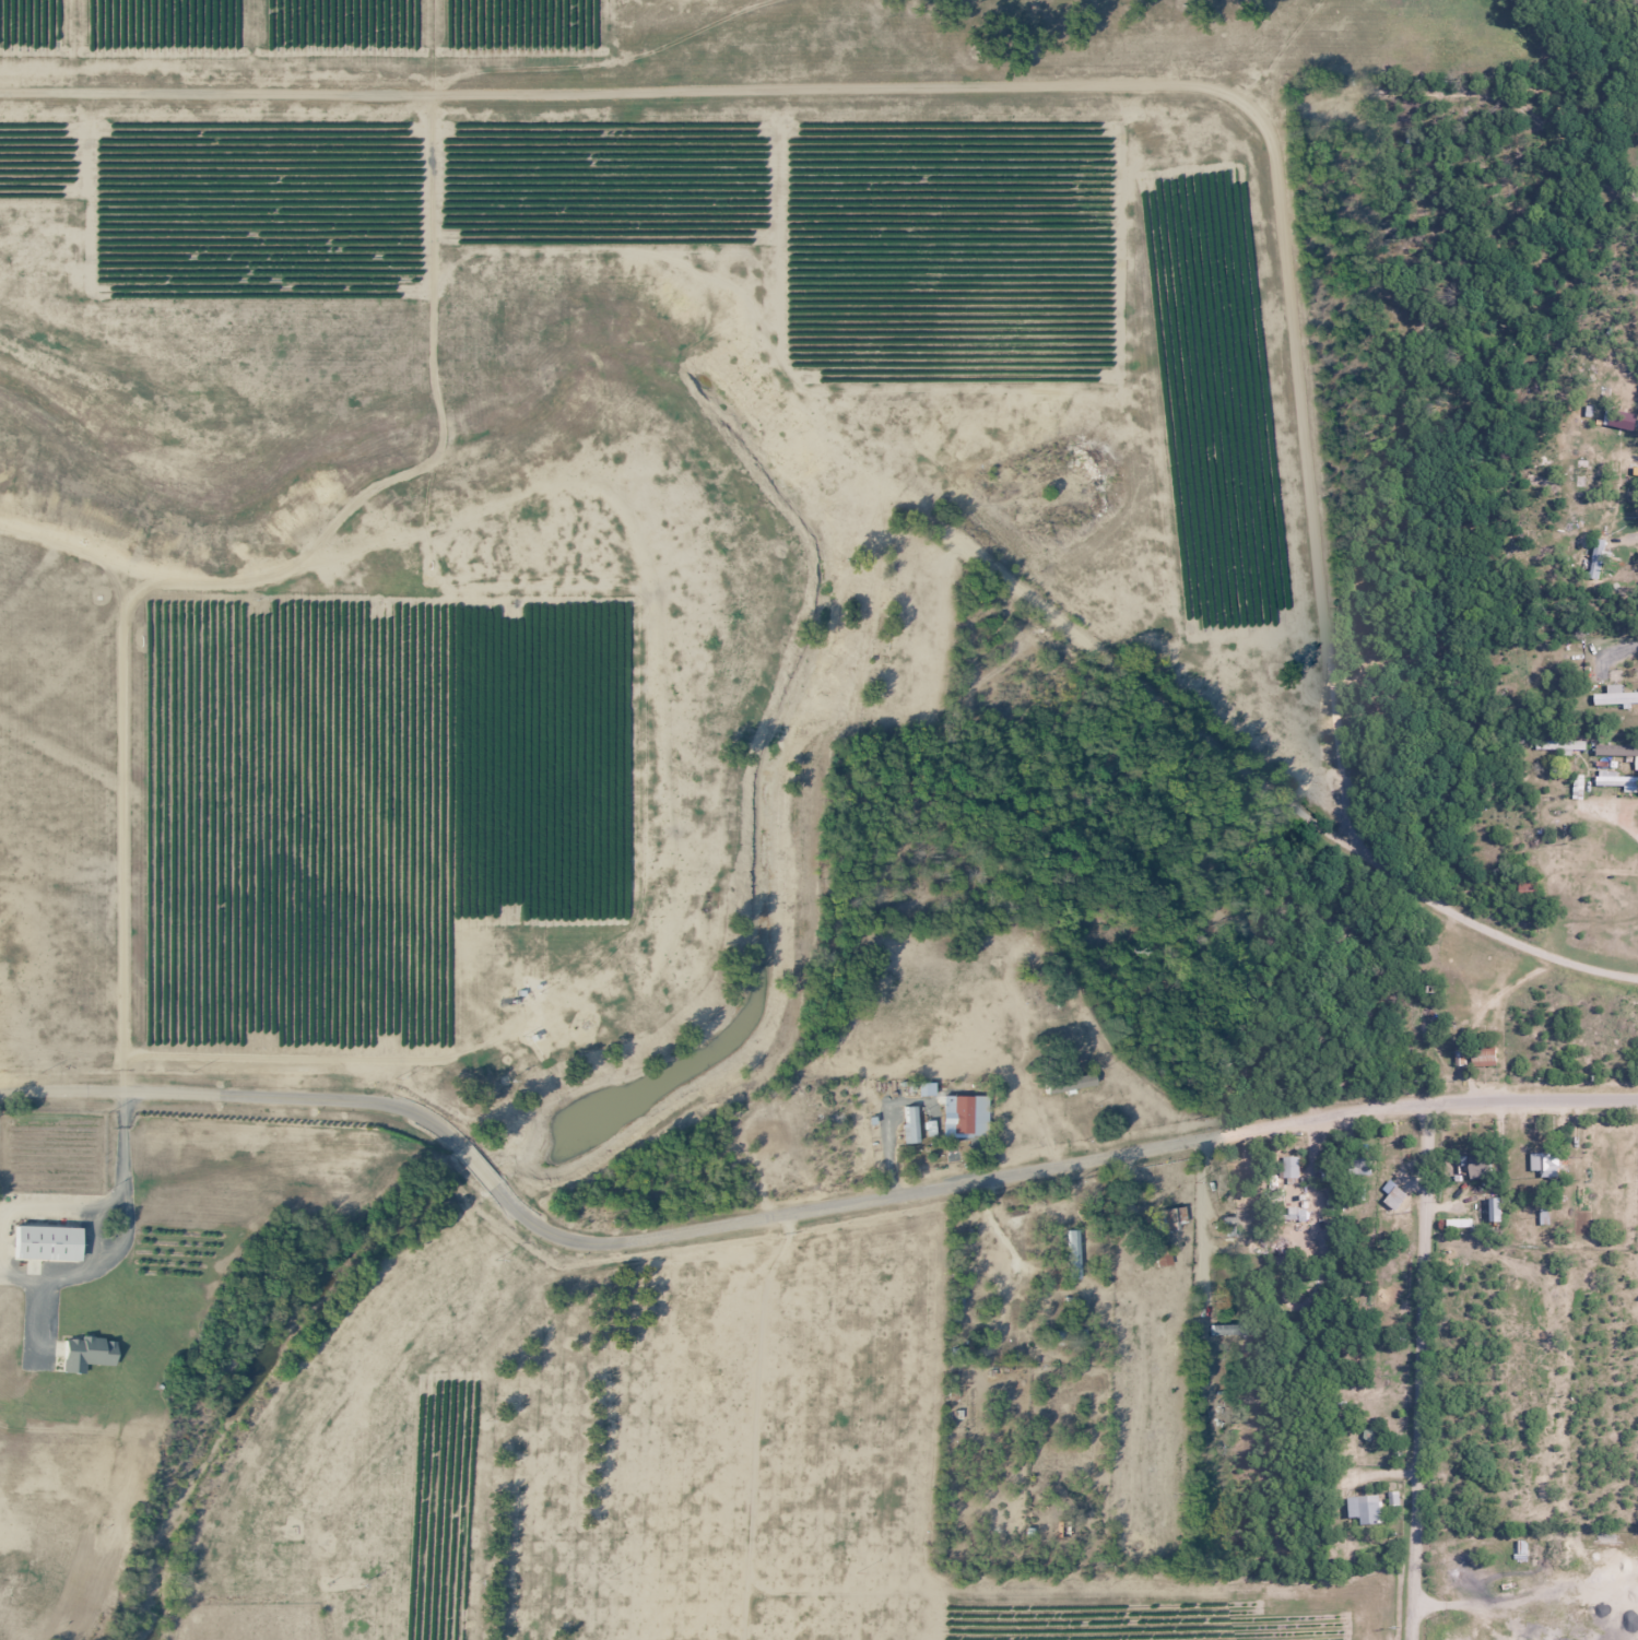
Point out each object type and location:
road: (1159, 86)
park: (912, 635)
building: (1627, 697)
building: (1614, 783)
building: (1483, 1053)
road: (237, 1094)
road: (1187, 1141)
building: (1289, 1166)
road: (479, 1168)
building: (1170, 1218)
building: (40, 1242)
road: (609, 1243)
building: (1071, 1253)
building: (83, 1353)
road: (1418, 1370)
building: (1363, 1508)

